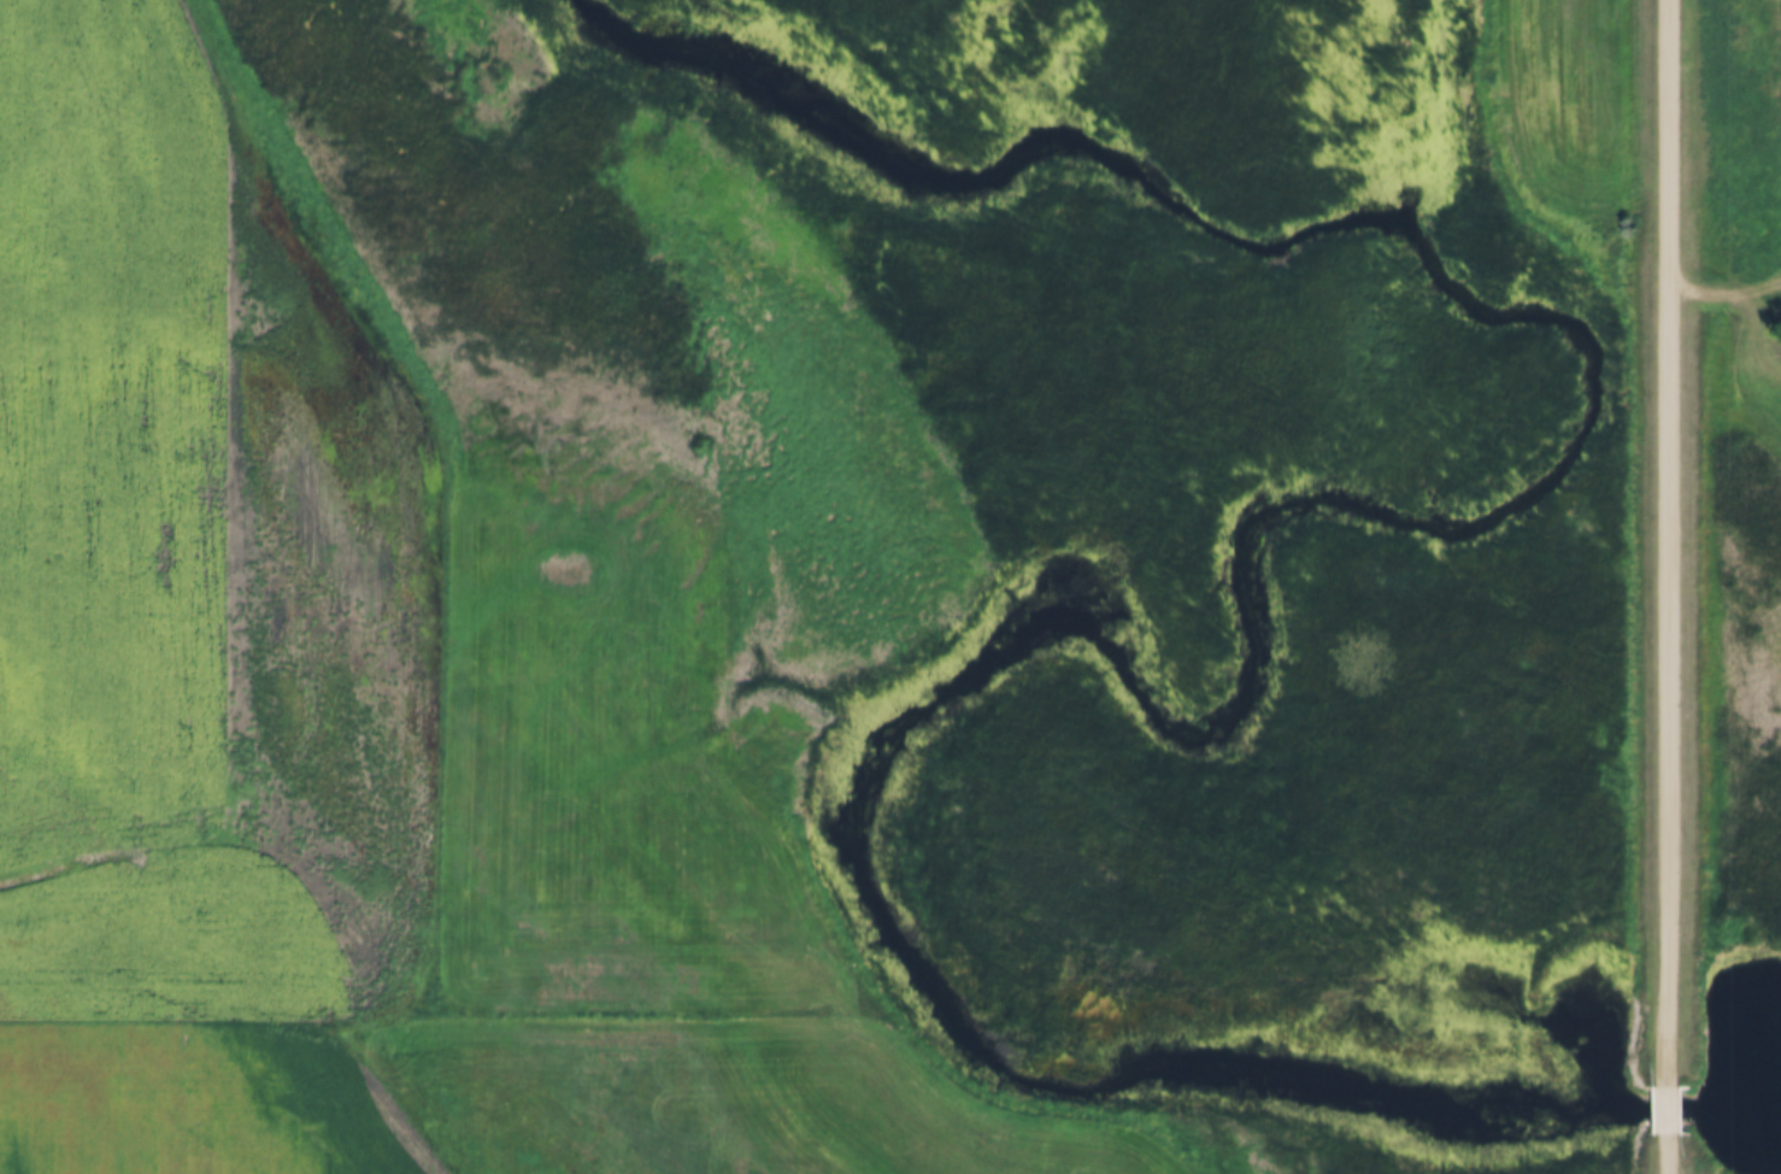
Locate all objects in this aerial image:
river: (1213, 515)
road: (1668, 539)
road: (1669, 1104)
road: (1669, 1152)

